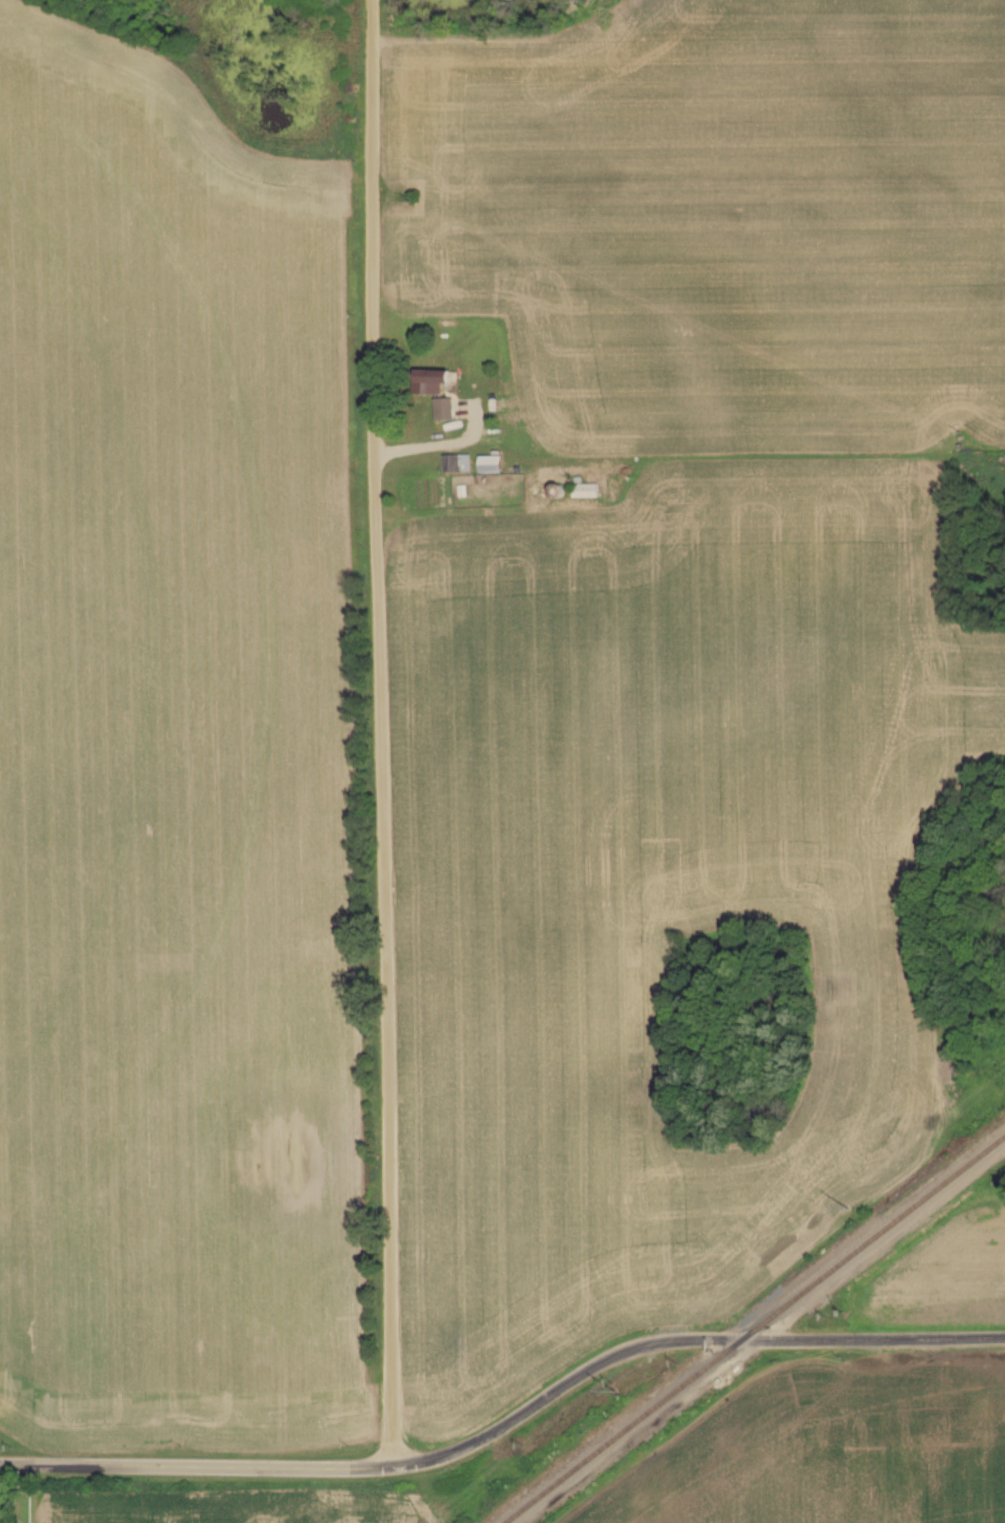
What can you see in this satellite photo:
building: (433, 383)
building: (445, 410)
road: (436, 444)
building: (457, 464)
building: (492, 466)
building: (585, 492)
road: (378, 733)
crop: (177, 770)
railway: (756, 1332)
road: (682, 1342)
building: (0, 1376)
crop: (833, 1448)
road: (167, 1467)
road: (362, 1467)
crop: (248, 1507)

